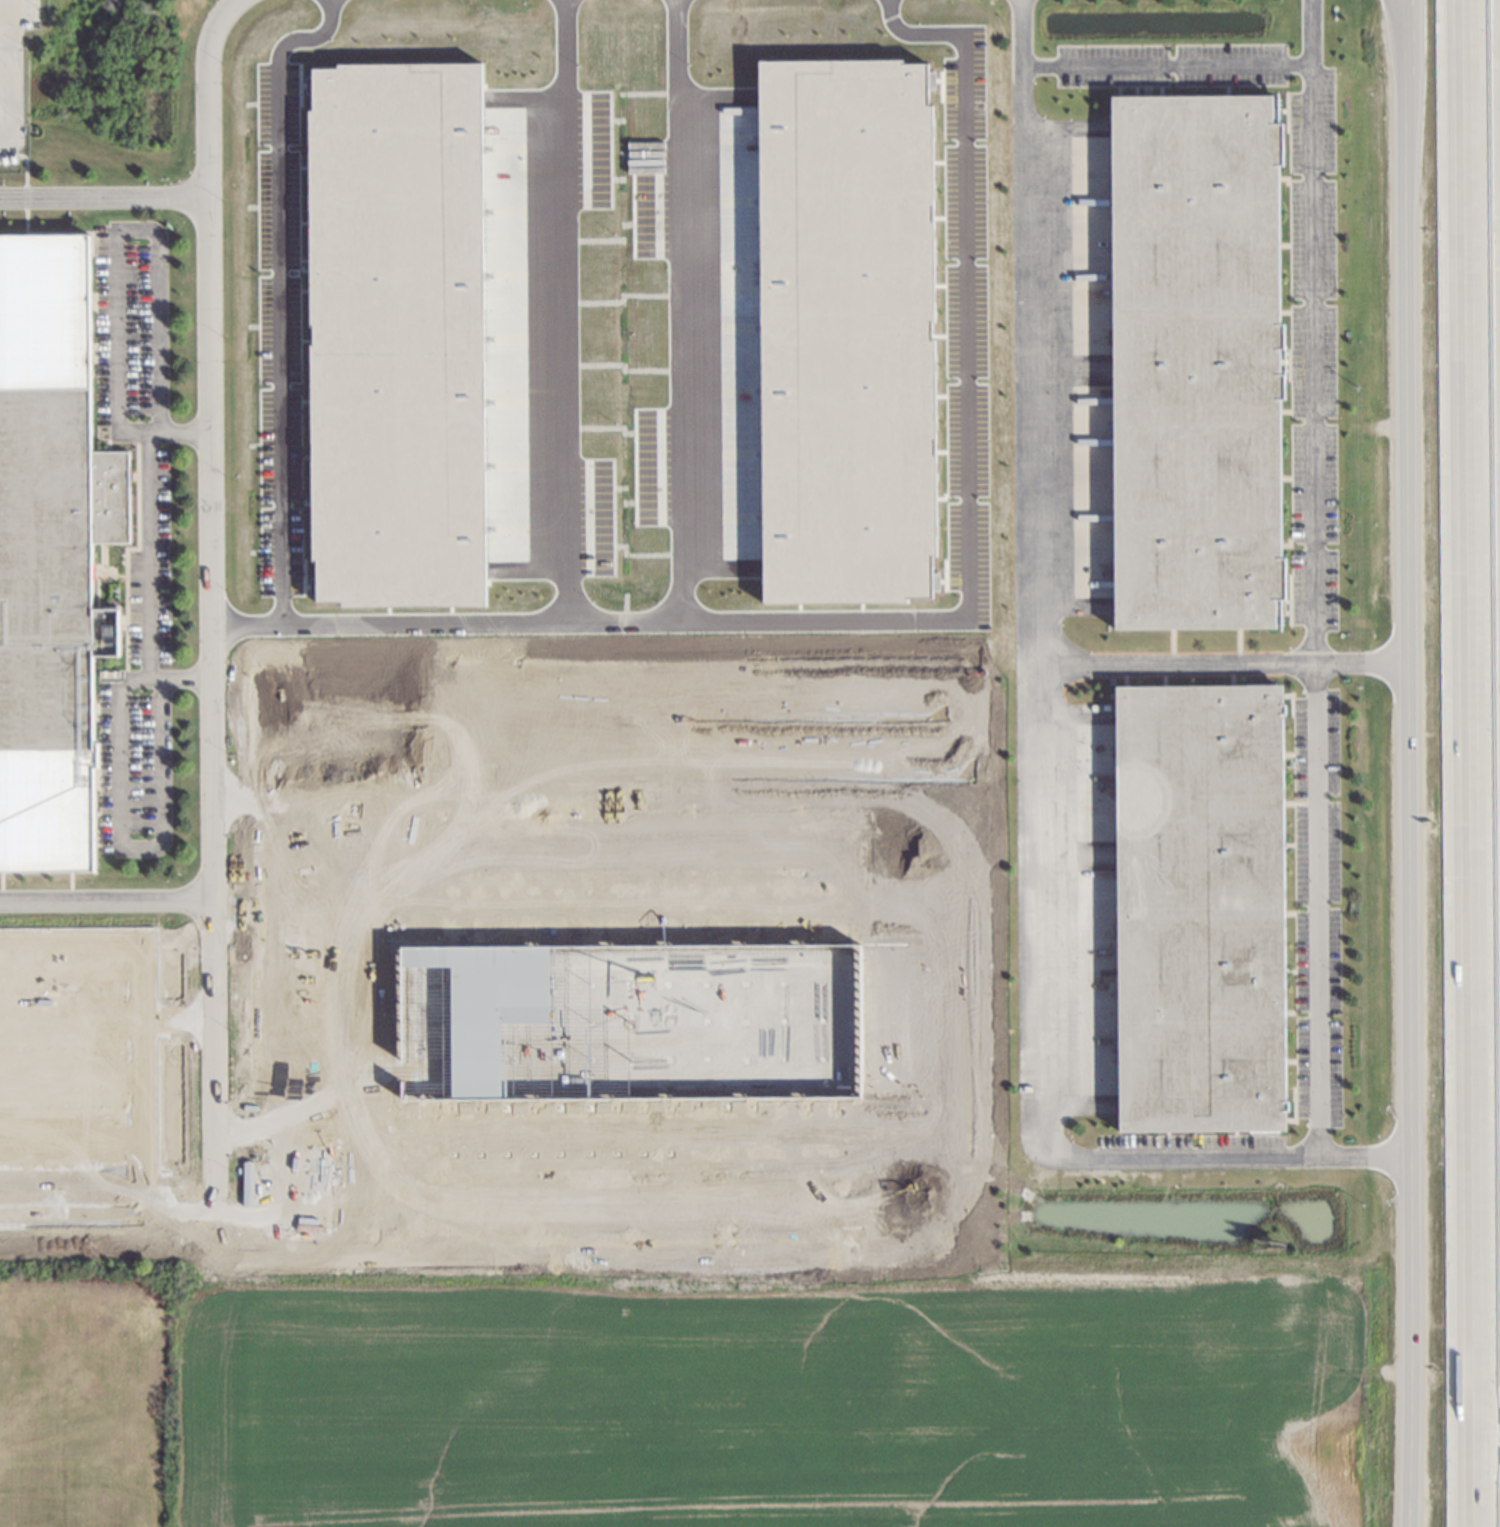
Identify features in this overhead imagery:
road: (7, 9)
road: (15, 69)
road: (1176, 69)
road: (8, 70)
road: (104, 196)
road: (118, 231)
road: (679, 311)
building: (44, 318)
parking lot: (128, 319)
road: (277, 326)
building: (847, 330)
road: (1040, 330)
road: (1317, 333)
building: (399, 334)
parking lot: (1319, 358)
building: (1193, 364)
road: (565, 450)
road: (967, 489)
road: (142, 556)
parking lot: (145, 560)
building: (47, 571)
road: (211, 606)
road: (925, 684)
road: (1045, 756)
road: (1414, 763)
road: (1468, 763)
parking lot: (126, 771)
building: (50, 812)
road: (116, 848)
road: (320, 870)
road: (106, 898)
parking lot: (1321, 905)
road: (320, 912)
building: (1197, 912)
road: (1320, 912)
road: (321, 958)
road: (321, 999)
road: (138, 1012)
road: (176, 1019)
road: (69, 1021)
road: (978, 1030)
road: (322, 1042)
road: (70, 1077)
road: (322, 1087)
road: (323, 1132)
road: (245, 1133)
road: (70, 1137)
parking lot: (1195, 1153)
road: (1260, 1158)
road: (371, 1164)
road: (323, 1175)
road: (178, 1195)
road: (71, 1196)

